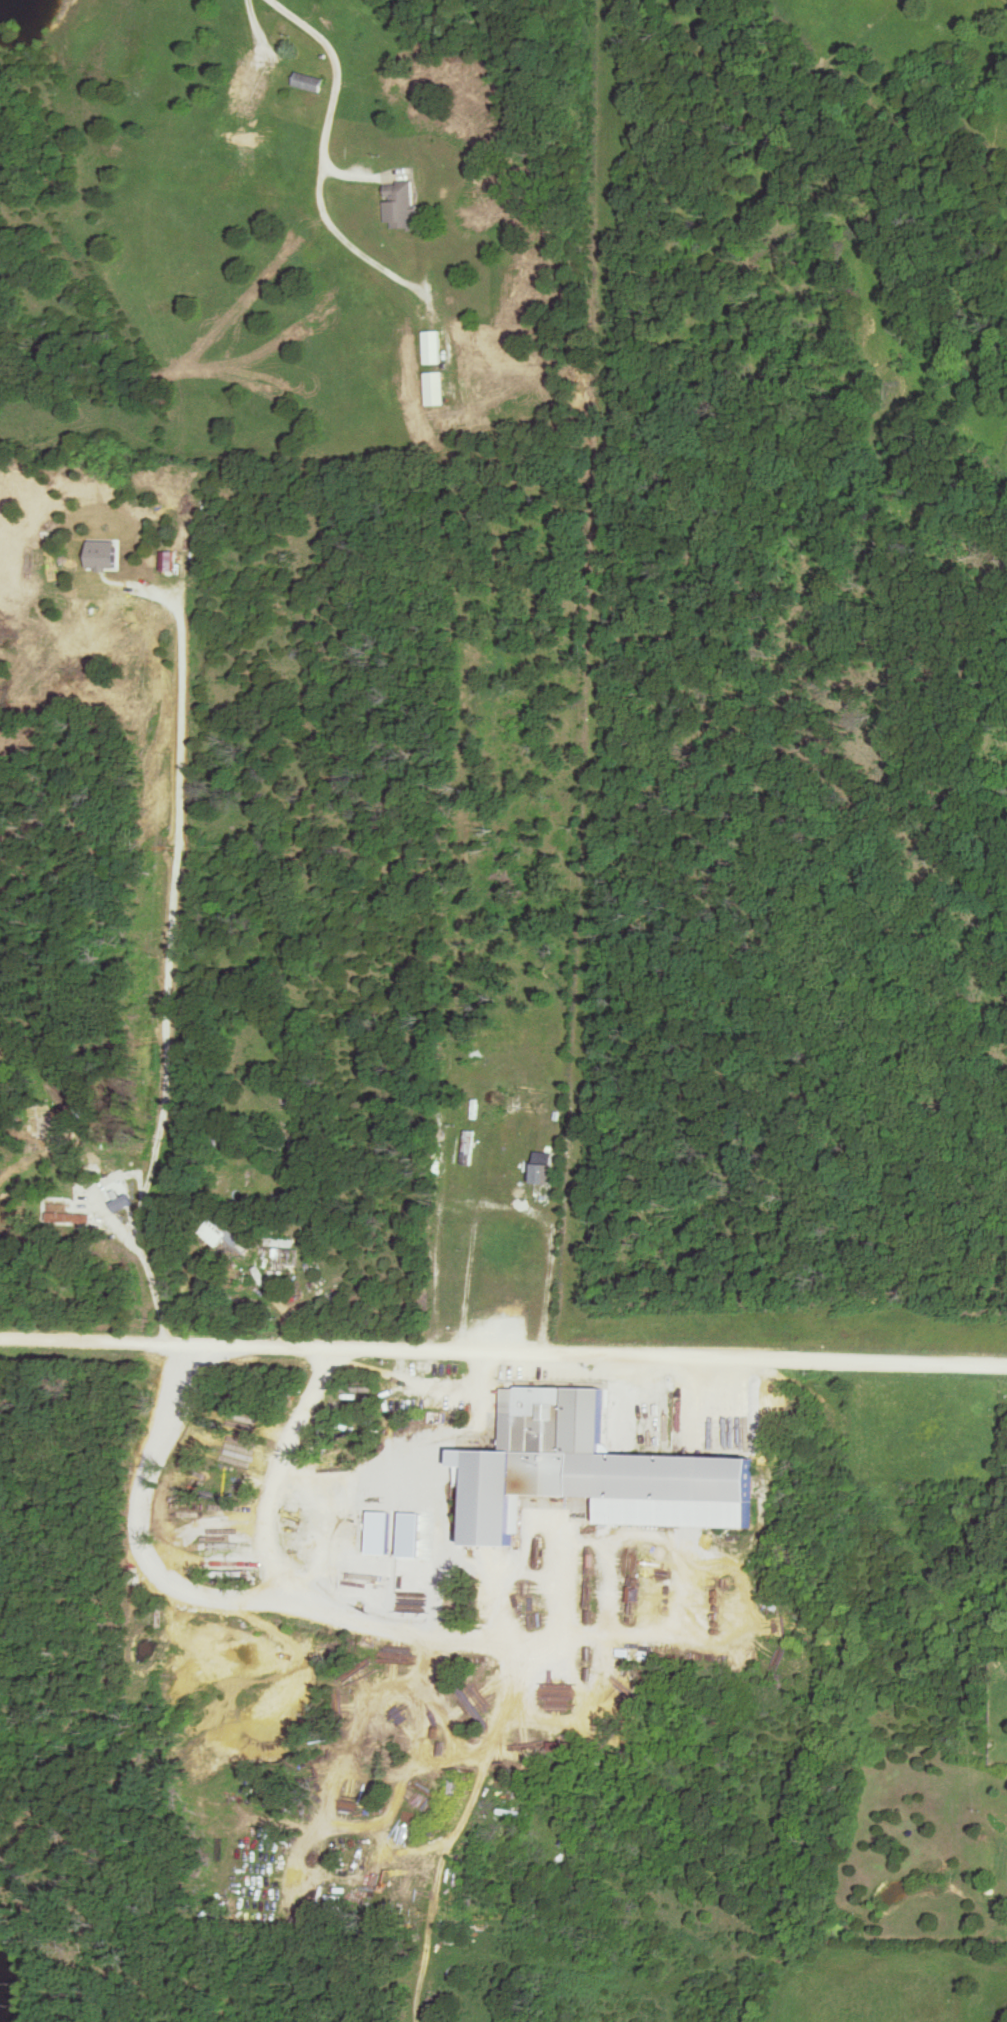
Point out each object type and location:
road: (264, 26)
building: (403, 203)
building: (437, 345)
building: (440, 387)
building: (302, 1274)
road: (503, 1352)
building: (572, 1465)

